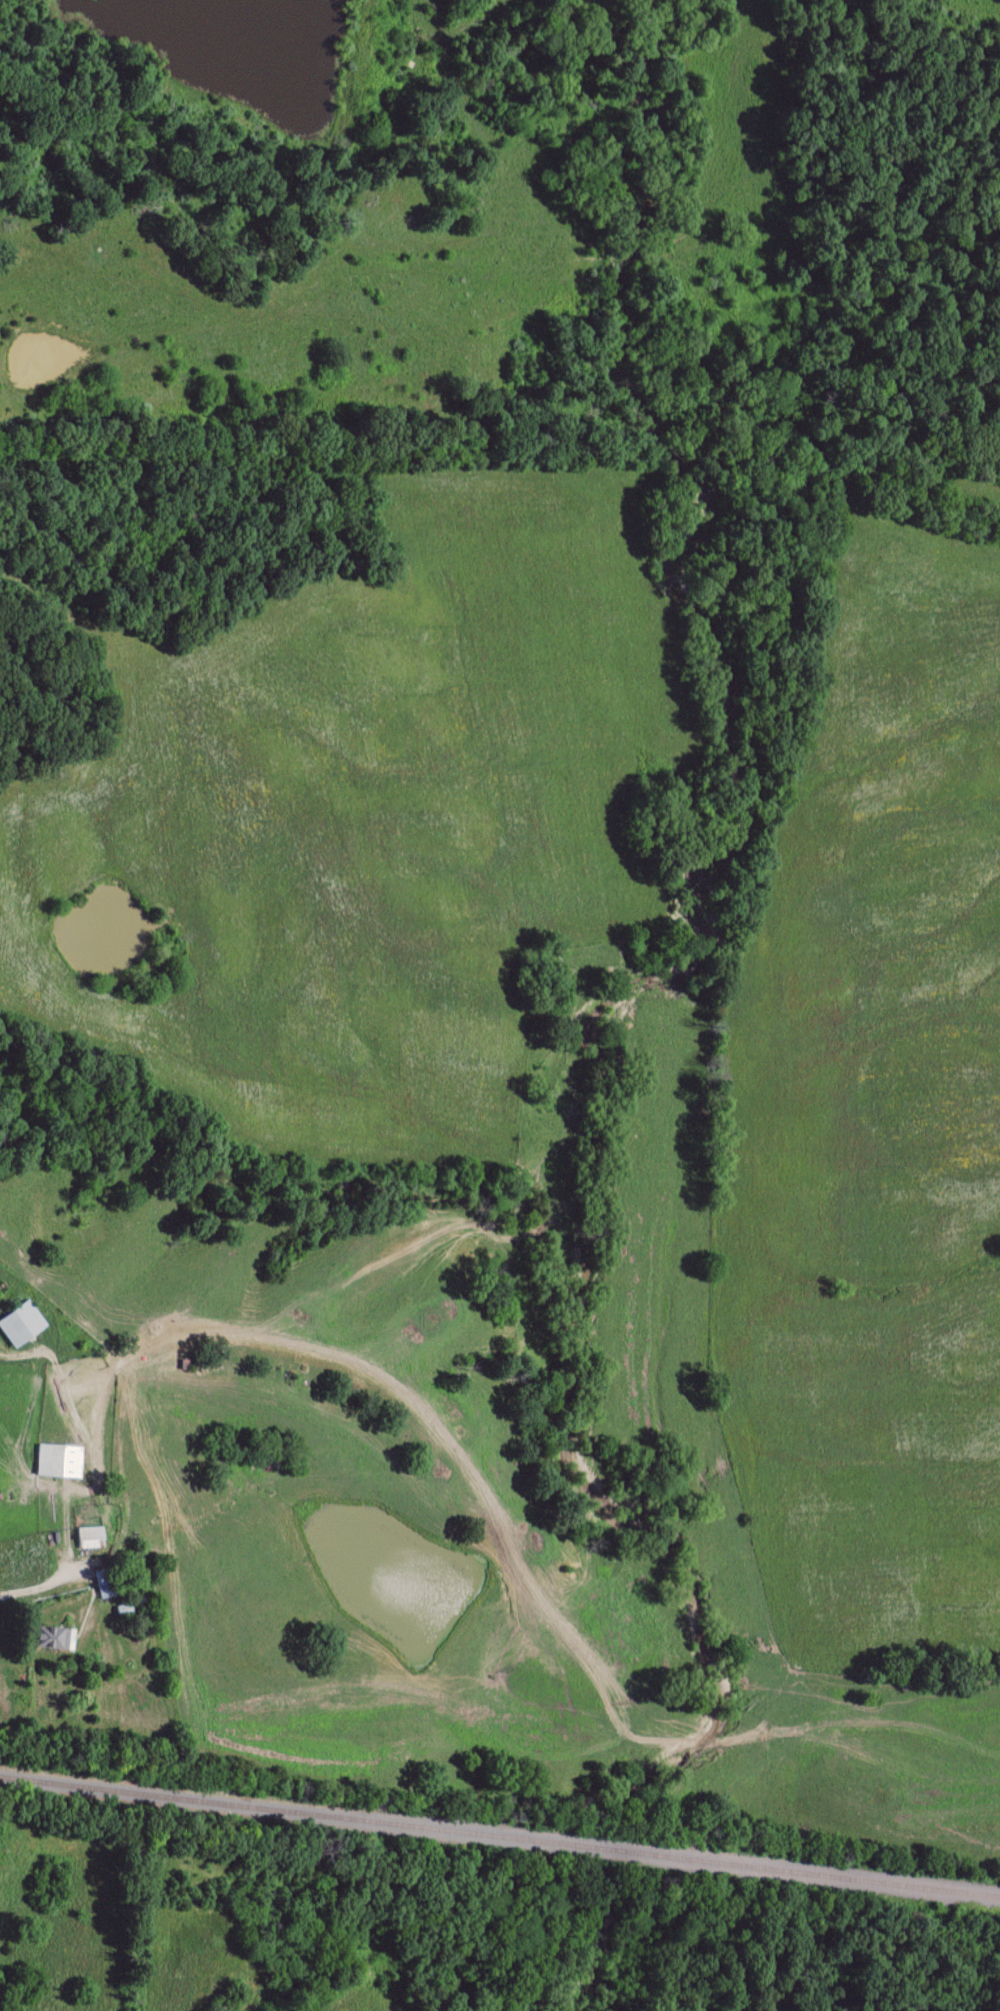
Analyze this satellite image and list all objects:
building: (26, 1325)
building: (63, 1462)
building: (94, 1539)
building: (110, 1584)
road: (36, 1593)
building: (58, 1638)
railway: (499, 1836)

